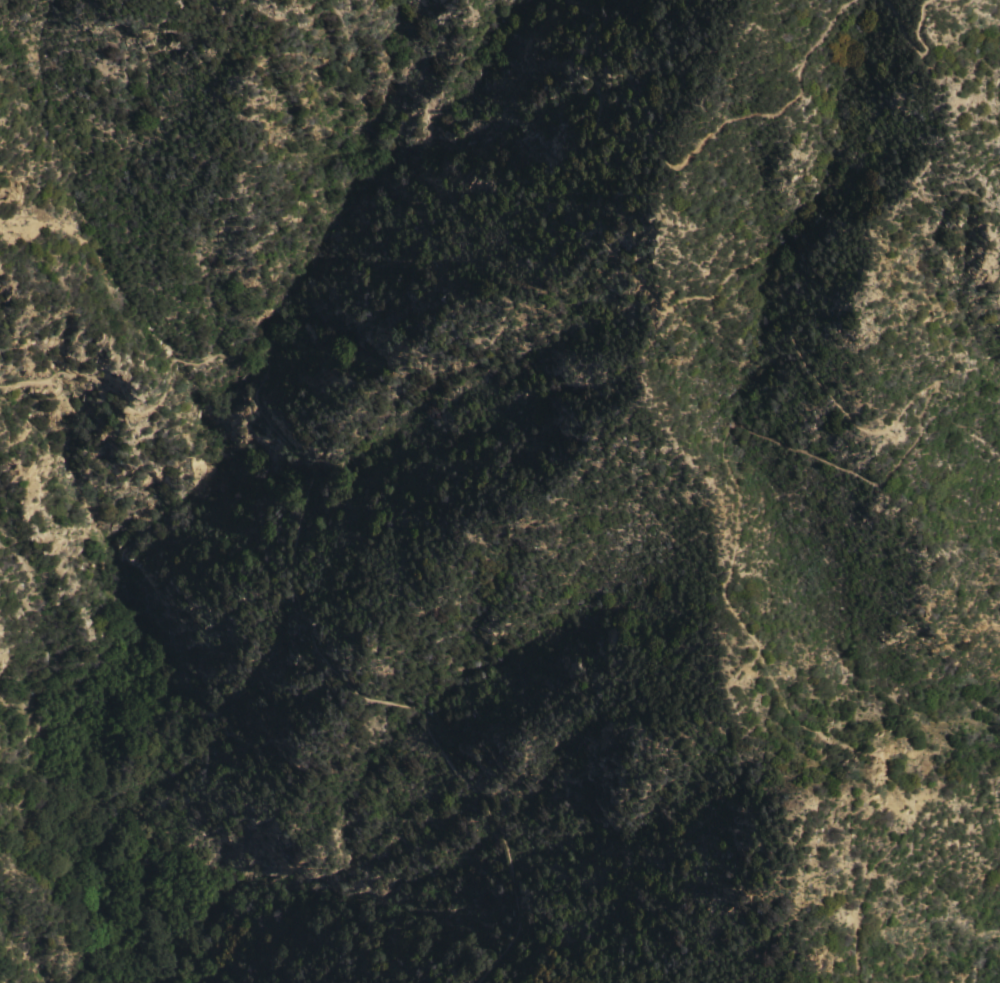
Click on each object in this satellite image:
road: (916, 41)
road: (844, 406)
road: (290, 569)

